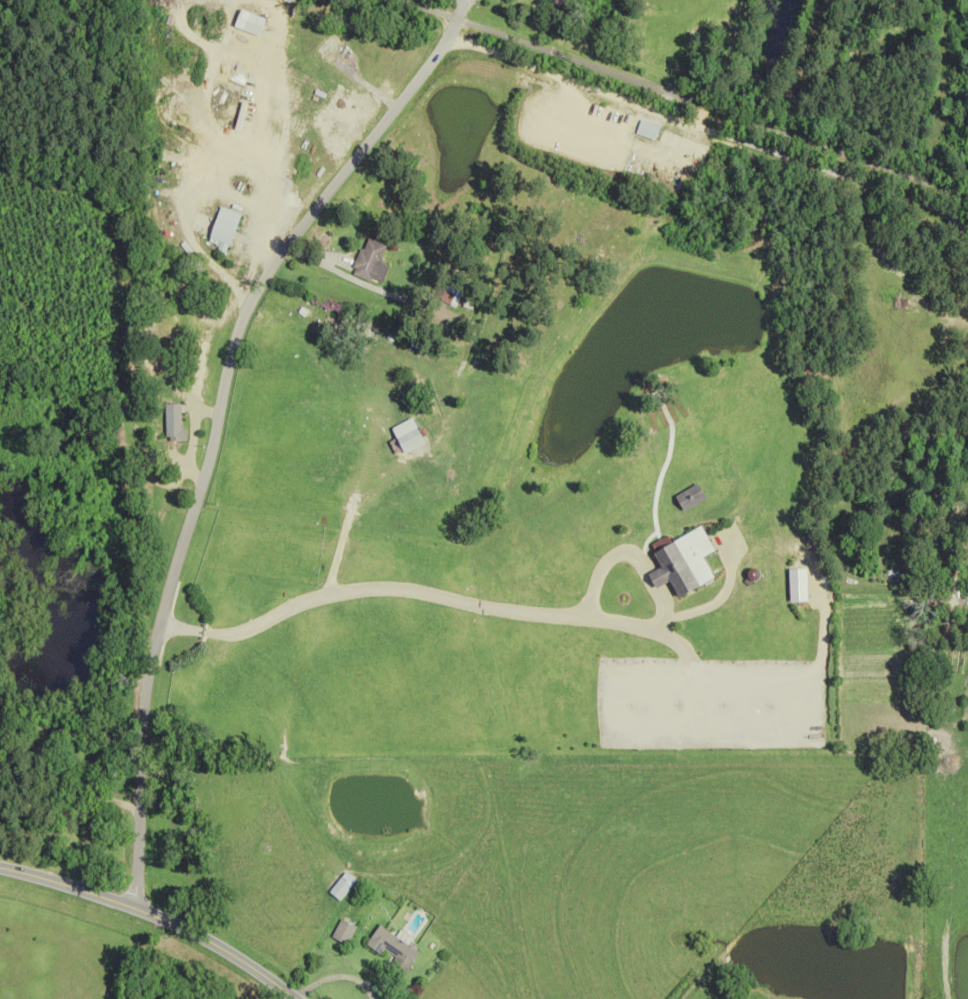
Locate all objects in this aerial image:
building: (555, 1)
building: (244, 19)
building: (335, 36)
road: (584, 84)
road: (684, 97)
road: (565, 100)
road: (573, 125)
parking lot: (572, 126)
building: (645, 128)
road: (850, 177)
building: (221, 224)
road: (204, 261)
building: (368, 261)
road: (345, 276)
road: (199, 409)
road: (214, 421)
building: (172, 422)
road: (485, 606)
road: (66, 804)
building: (339, 889)
road: (153, 915)
building: (342, 932)
building: (392, 948)

